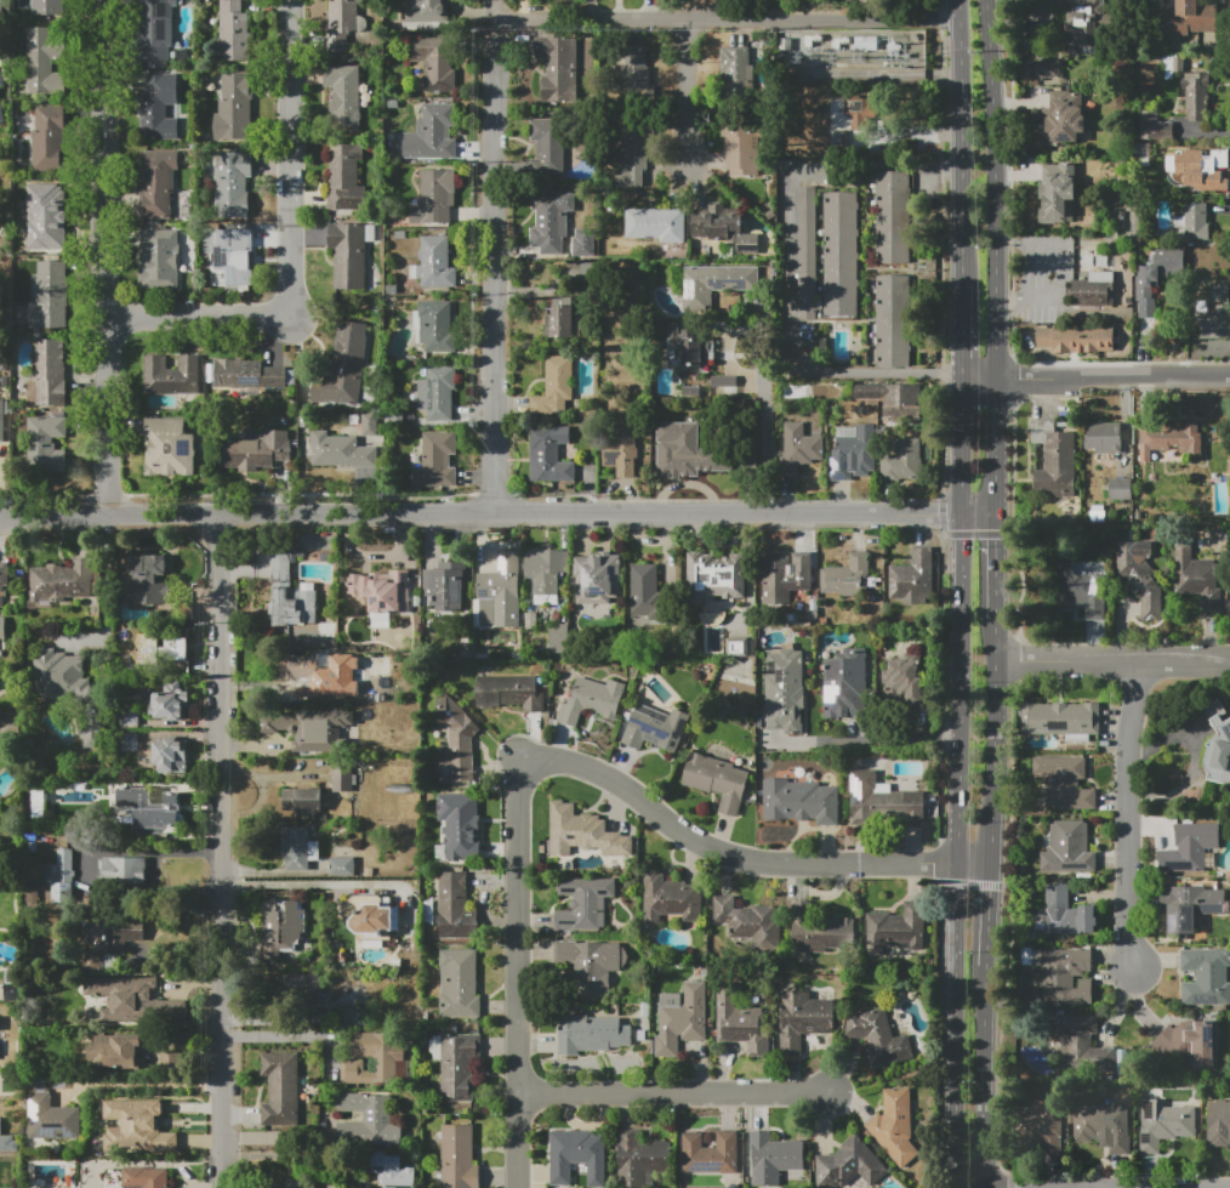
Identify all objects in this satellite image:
building: (49, 7)
building: (1, 10)
building: (427, 11)
building: (1195, 21)
building: (341, 23)
road: (714, 23)
building: (1082, 23)
building: (156, 29)
building: (233, 32)
road: (491, 41)
building: (864, 41)
power substation: (853, 53)
building: (45, 62)
building: (434, 62)
building: (1174, 66)
building: (558, 68)
building: (1047, 69)
building: (733, 70)
building: (633, 73)
building: (1, 79)
road: (684, 93)
building: (1195, 95)
building: (343, 96)
building: (156, 103)
building: (235, 107)
building: (858, 109)
building: (1, 112)
building: (1063, 118)
building: (1155, 126)
building: (437, 129)
building: (50, 137)
building: (836, 138)
road: (962, 141)
building: (738, 143)
building: (547, 146)
building: (632, 152)
road: (290, 158)
building: (1197, 170)
building: (344, 177)
building: (158, 183)
building: (233, 184)
road: (996, 188)
building: (1057, 193)
building: (434, 199)
building: (45, 216)
building: (551, 217)
building: (893, 217)
building: (1192, 221)
building: (656, 223)
building: (723, 226)
building: (581, 241)
building: (349, 252)
building: (807, 252)
building: (841, 254)
building: (233, 256)
building: (159, 257)
road: (116, 258)
building: (433, 262)
road: (787, 267)
building: (1154, 279)
building: (716, 285)
road: (492, 289)
building: (1091, 291)
building: (1220, 292)
building: (47, 294)
road: (204, 314)
building: (560, 316)
building: (1212, 320)
building: (893, 322)
building: (434, 326)
road: (961, 330)
building: (1076, 339)
building: (688, 347)
building: (344, 366)
building: (49, 374)
building: (172, 375)
building: (245, 376)
road: (978, 376)
road: (1112, 376)
building: (724, 386)
building: (554, 387)
building: (691, 391)
building: (438, 392)
building: (893, 400)
building: (746, 404)
building: (2, 421)
building: (370, 424)
building: (1104, 437)
road: (763, 438)
building: (1172, 443)
building: (46, 445)
building: (170, 447)
building: (798, 448)
road: (959, 448)
building: (621, 449)
road: (997, 449)
building: (341, 451)
building: (687, 451)
building: (852, 453)
building: (548, 454)
building: (260, 455)
building: (435, 461)
building: (902, 461)
building: (1055, 462)
building: (1120, 489)
road: (479, 518)
road: (979, 521)
road: (998, 568)
building: (545, 573)
building: (847, 575)
building: (1140, 575)
building: (915, 576)
building: (597, 578)
building: (784, 578)
building: (1198, 579)
building: (2, 580)
building: (148, 580)
building: (61, 584)
building: (444, 584)
building: (714, 584)
building: (645, 585)
building: (381, 590)
building: (1080, 592)
building: (499, 593)
road: (104, 595)
building: (302, 604)
building: (2, 627)
building: (326, 630)
building: (557, 637)
building: (736, 647)
building: (160, 649)
road: (1114, 663)
building: (371, 665)
building: (302, 667)
building: (906, 680)
building: (845, 684)
building: (70, 689)
building: (509, 690)
building: (784, 690)
road: (956, 693)
building: (592, 700)
building: (170, 701)
building: (129, 716)
building: (1060, 718)
building: (311, 728)
building: (655, 728)
building: (130, 741)
road: (860, 741)
road: (997, 741)
building: (456, 743)
building: (1217, 744)
building: (172, 755)
road: (542, 762)
building: (341, 778)
building: (717, 780)
building: (1065, 783)
building: (796, 802)
building: (882, 802)
building: (39, 803)
building: (303, 803)
road: (1126, 814)
building: (159, 815)
building: (460, 826)
building: (583, 832)
building: (297, 848)
building: (1067, 848)
building: (1191, 848)
road: (222, 853)
building: (341, 866)
road: (973, 866)
building: (123, 870)
building: (61, 876)
road: (311, 882)
building: (670, 899)
building: (585, 903)
building: (1189, 905)
building: (456, 909)
building: (1067, 913)
road: (990, 915)
building: (371, 916)
building: (748, 922)
building: (281, 927)
building: (899, 928)
building: (816, 930)
building: (109, 939)
building: (588, 965)
building: (1061, 974)
building: (1206, 977)
building: (459, 984)
building: (303, 987)
building: (135, 1000)
building: (354, 1017)
building: (803, 1019)
building: (683, 1021)
building: (741, 1022)
road: (952, 1027)
building: (591, 1033)
road: (290, 1036)
building: (879, 1039)
building: (1081, 1044)
building: (1188, 1044)
building: (115, 1052)
building: (391, 1058)
building: (171, 1062)
building: (457, 1065)
road: (985, 1076)
road: (143, 1085)
building: (281, 1088)
road: (682, 1095)
building: (55, 1118)
building: (1219, 1118)
building: (368, 1119)
building: (1163, 1124)
building: (895, 1127)
building: (1103, 1127)
building: (137, 1129)
building: (1037, 1130)
building: (7, 1143)
building: (708, 1153)
building: (459, 1156)
building: (579, 1156)
building: (639, 1156)
building: (774, 1158)
building: (850, 1166)
building: (393, 1171)
building: (144, 1177)
building: (298, 1183)

